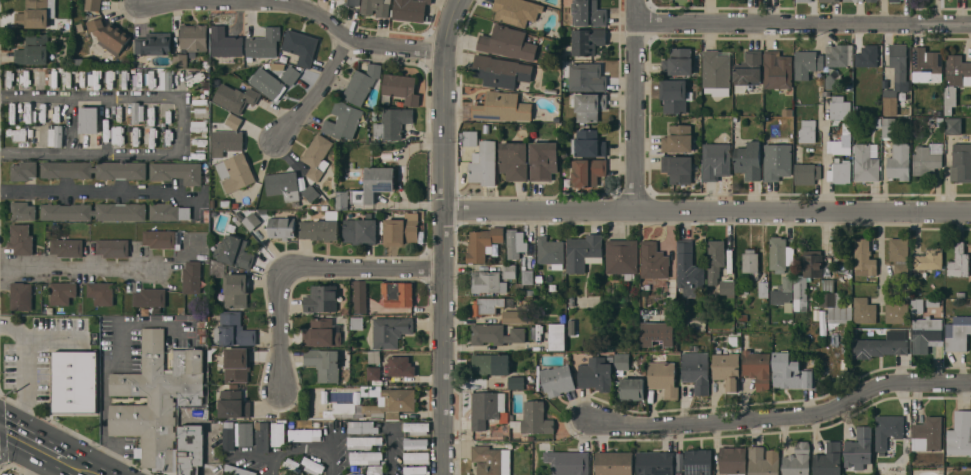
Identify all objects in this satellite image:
building: (803, 0)
building: (853, 0)
building: (872, 0)
building: (895, 0)
building: (831, 1)
building: (353, 2)
building: (92, 5)
building: (376, 7)
building: (410, 9)
building: (516, 11)
building: (36, 13)
building: (588, 13)
road: (296, 15)
road: (803, 22)
road: (452, 23)
building: (108, 34)
building: (194, 37)
building: (588, 40)
building: (225, 41)
building: (507, 42)
building: (153, 43)
building: (264, 43)
building: (300, 46)
building: (33, 49)
building: (839, 54)
building: (867, 55)
building: (180, 60)
building: (898, 60)
building: (678, 61)
building: (807, 62)
building: (925, 63)
building: (778, 69)
building: (500, 71)
building: (748, 71)
building: (716, 72)
building: (291, 74)
building: (194, 75)
building: (94, 76)
building: (165, 76)
building: (585, 76)
building: (109, 77)
building: (137, 77)
building: (23, 78)
building: (955, 79)
building: (66, 80)
building: (268, 83)
building: (363, 83)
building: (400, 88)
road: (314, 95)
building: (674, 95)
building: (889, 95)
building: (235, 97)
road: (637, 105)
building: (502, 106)
building: (589, 106)
building: (840, 107)
building: (137, 112)
road: (70, 113)
building: (154, 113)
building: (89, 119)
building: (343, 120)
building: (234, 121)
building: (393, 122)
road: (184, 123)
building: (953, 125)
building: (106, 130)
building: (807, 130)
building: (20, 132)
building: (43, 135)
building: (55, 135)
building: (134, 136)
building: (167, 136)
building: (471, 137)
building: (678, 138)
building: (226, 141)
building: (589, 143)
building: (840, 144)
building: (895, 151)
building: (316, 155)
building: (514, 160)
building: (543, 160)
building: (716, 160)
building: (749, 160)
building: (926, 160)
building: (777, 161)
building: (961, 162)
building: (484, 163)
building: (865, 163)
road: (824, 167)
building: (678, 168)
building: (94, 169)
building: (24, 170)
building: (176, 171)
building: (236, 171)
building: (587, 171)
building: (840, 171)
building: (807, 173)
road: (402, 175)
building: (375, 183)
building: (283, 184)
building: (311, 192)
road: (96, 193)
building: (341, 199)
building: (22, 210)
building: (93, 211)
building: (168, 211)
road: (709, 212)
building: (251, 221)
building: (282, 227)
building: (321, 227)
building: (402, 229)
building: (360, 231)
building: (21, 238)
building: (159, 238)
building: (515, 243)
building: (484, 244)
building: (66, 246)
building: (113, 247)
building: (898, 248)
building: (235, 251)
building: (551, 251)
building: (584, 251)
building: (780, 254)
building: (622, 257)
road: (881, 257)
building: (864, 258)
building: (715, 259)
building: (654, 260)
building: (750, 260)
building: (928, 260)
road: (447, 261)
building: (958, 261)
road: (79, 266)
road: (368, 266)
building: (509, 270)
building: (689, 270)
building: (901, 270)
building: (808, 272)
building: (527, 275)
building: (192, 277)
building: (487, 281)
building: (727, 287)
building: (236, 289)
building: (764, 289)
building: (62, 292)
building: (101, 292)
building: (398, 293)
building: (783, 293)
building: (21, 295)
building: (360, 296)
building: (150, 297)
building: (321, 298)
building: (835, 303)
building: (487, 305)
building: (917, 305)
building: (864, 310)
building: (898, 310)
building: (517, 316)
road: (279, 324)
building: (233, 330)
building: (390, 331)
building: (321, 332)
building: (958, 332)
building: (657, 333)
building: (926, 333)
building: (495, 334)
building: (558, 334)
building: (879, 347)
building: (374, 356)
building: (621, 361)
building: (324, 363)
building: (490, 363)
building: (235, 364)
building: (401, 366)
building: (757, 368)
building: (727, 369)
building: (697, 370)
building: (374, 372)
building: (791, 372)
road: (25, 373)
building: (596, 374)
building: (663, 378)
building: (557, 379)
building: (75, 381)
building: (516, 382)
building: (632, 388)
road: (105, 392)
building: (157, 399)
building: (234, 404)
building: (378, 404)
building: (487, 407)
road: (783, 417)
building: (531, 420)
building: (362, 427)
building: (417, 427)
building: (888, 429)
building: (245, 433)
building: (278, 433)
building: (960, 433)
building: (305, 434)
building: (928, 434)
building: (228, 435)
building: (262, 436)
building: (364, 441)
road: (32, 442)
building: (415, 443)
road: (304, 444)
building: (859, 448)
building: (191, 449)
road: (392, 450)
building: (366, 456)
building: (417, 457)
building: (828, 459)
building: (491, 460)
building: (733, 460)
building: (798, 460)
building: (698, 461)
building: (764, 461)
building: (568, 462)
building: (614, 463)
building: (655, 463)
road: (207, 464)
building: (292, 464)
building: (313, 465)
road: (80, 467)
building: (416, 469)
building: (240, 470)
building: (375, 470)
building: (280, 474)
building: (281, 474)
building: (285, 474)

